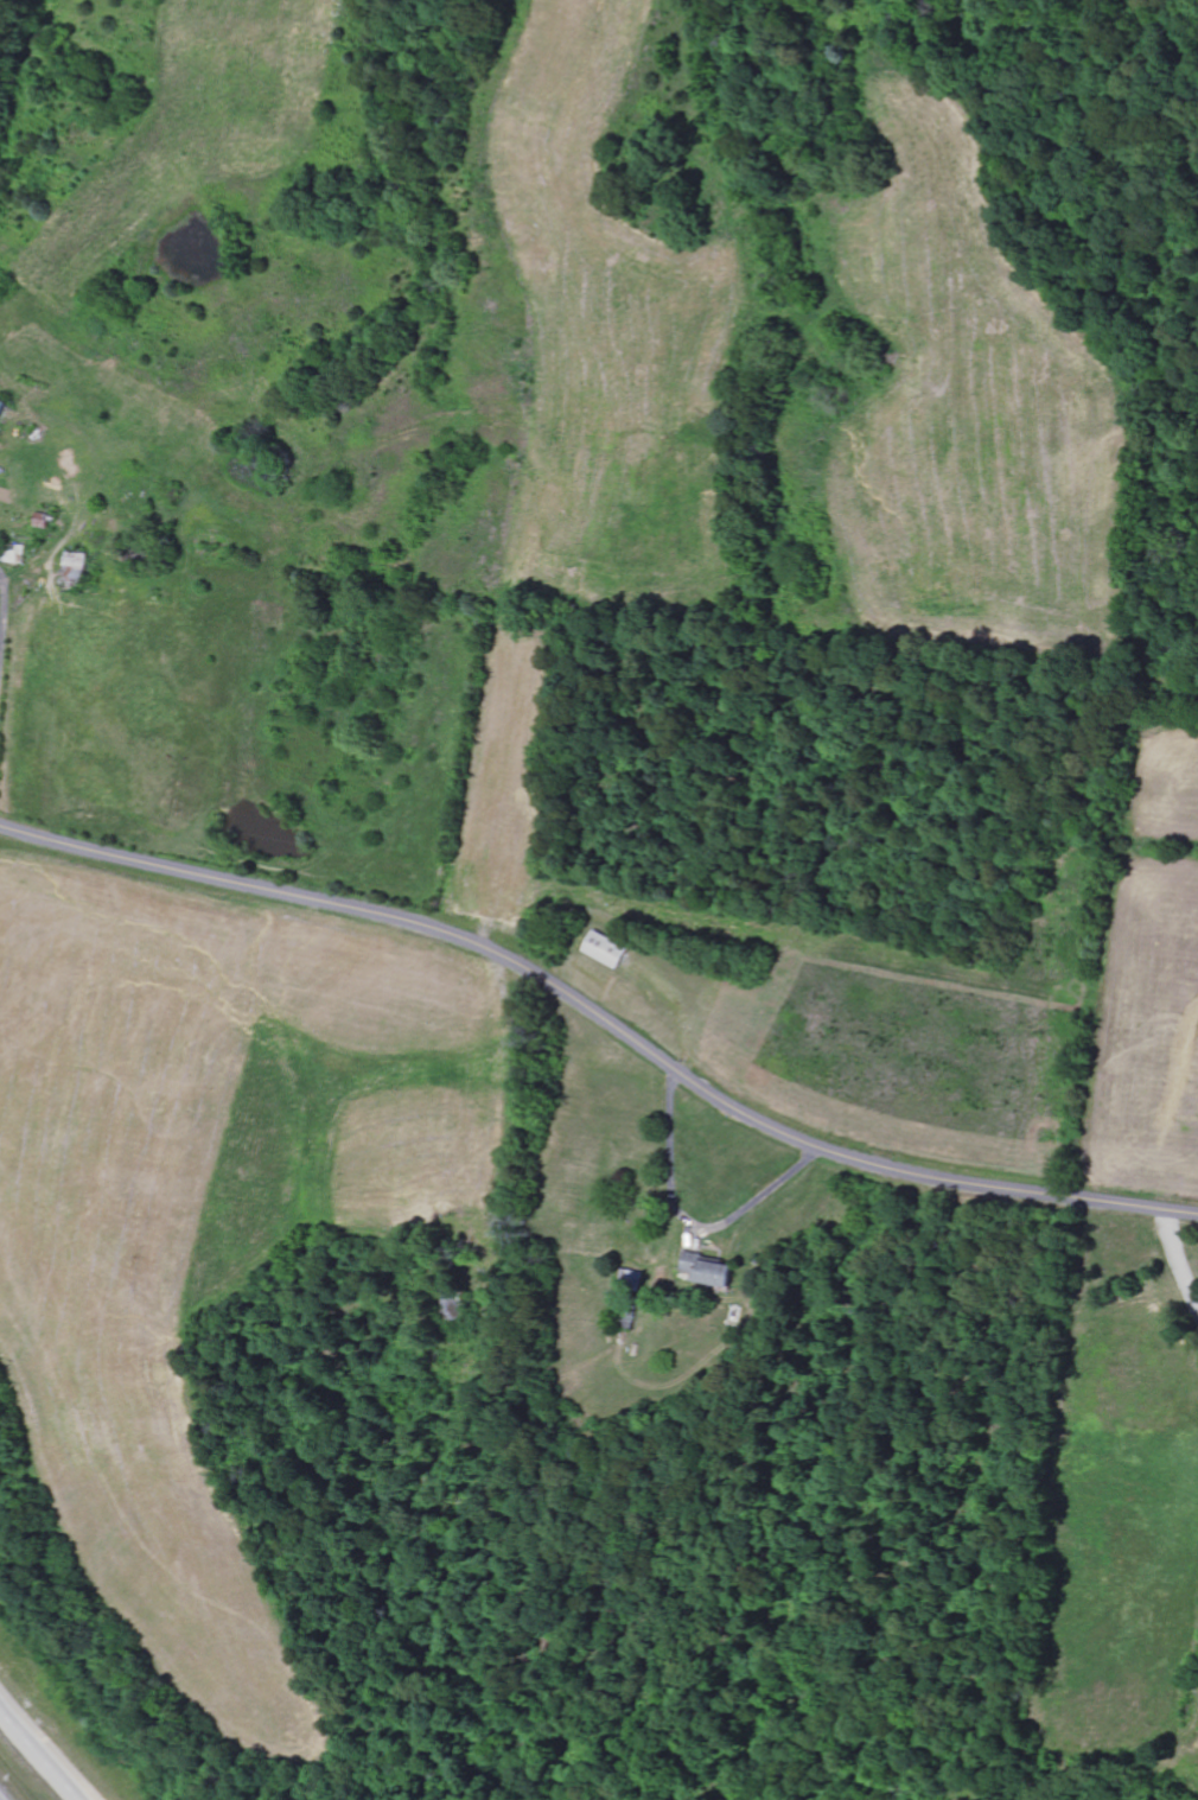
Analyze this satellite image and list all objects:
building: (2, 408)
building: (45, 522)
building: (79, 566)
road: (5, 628)
building: (608, 950)
road: (603, 1017)
building: (712, 1270)
road: (40, 1753)

